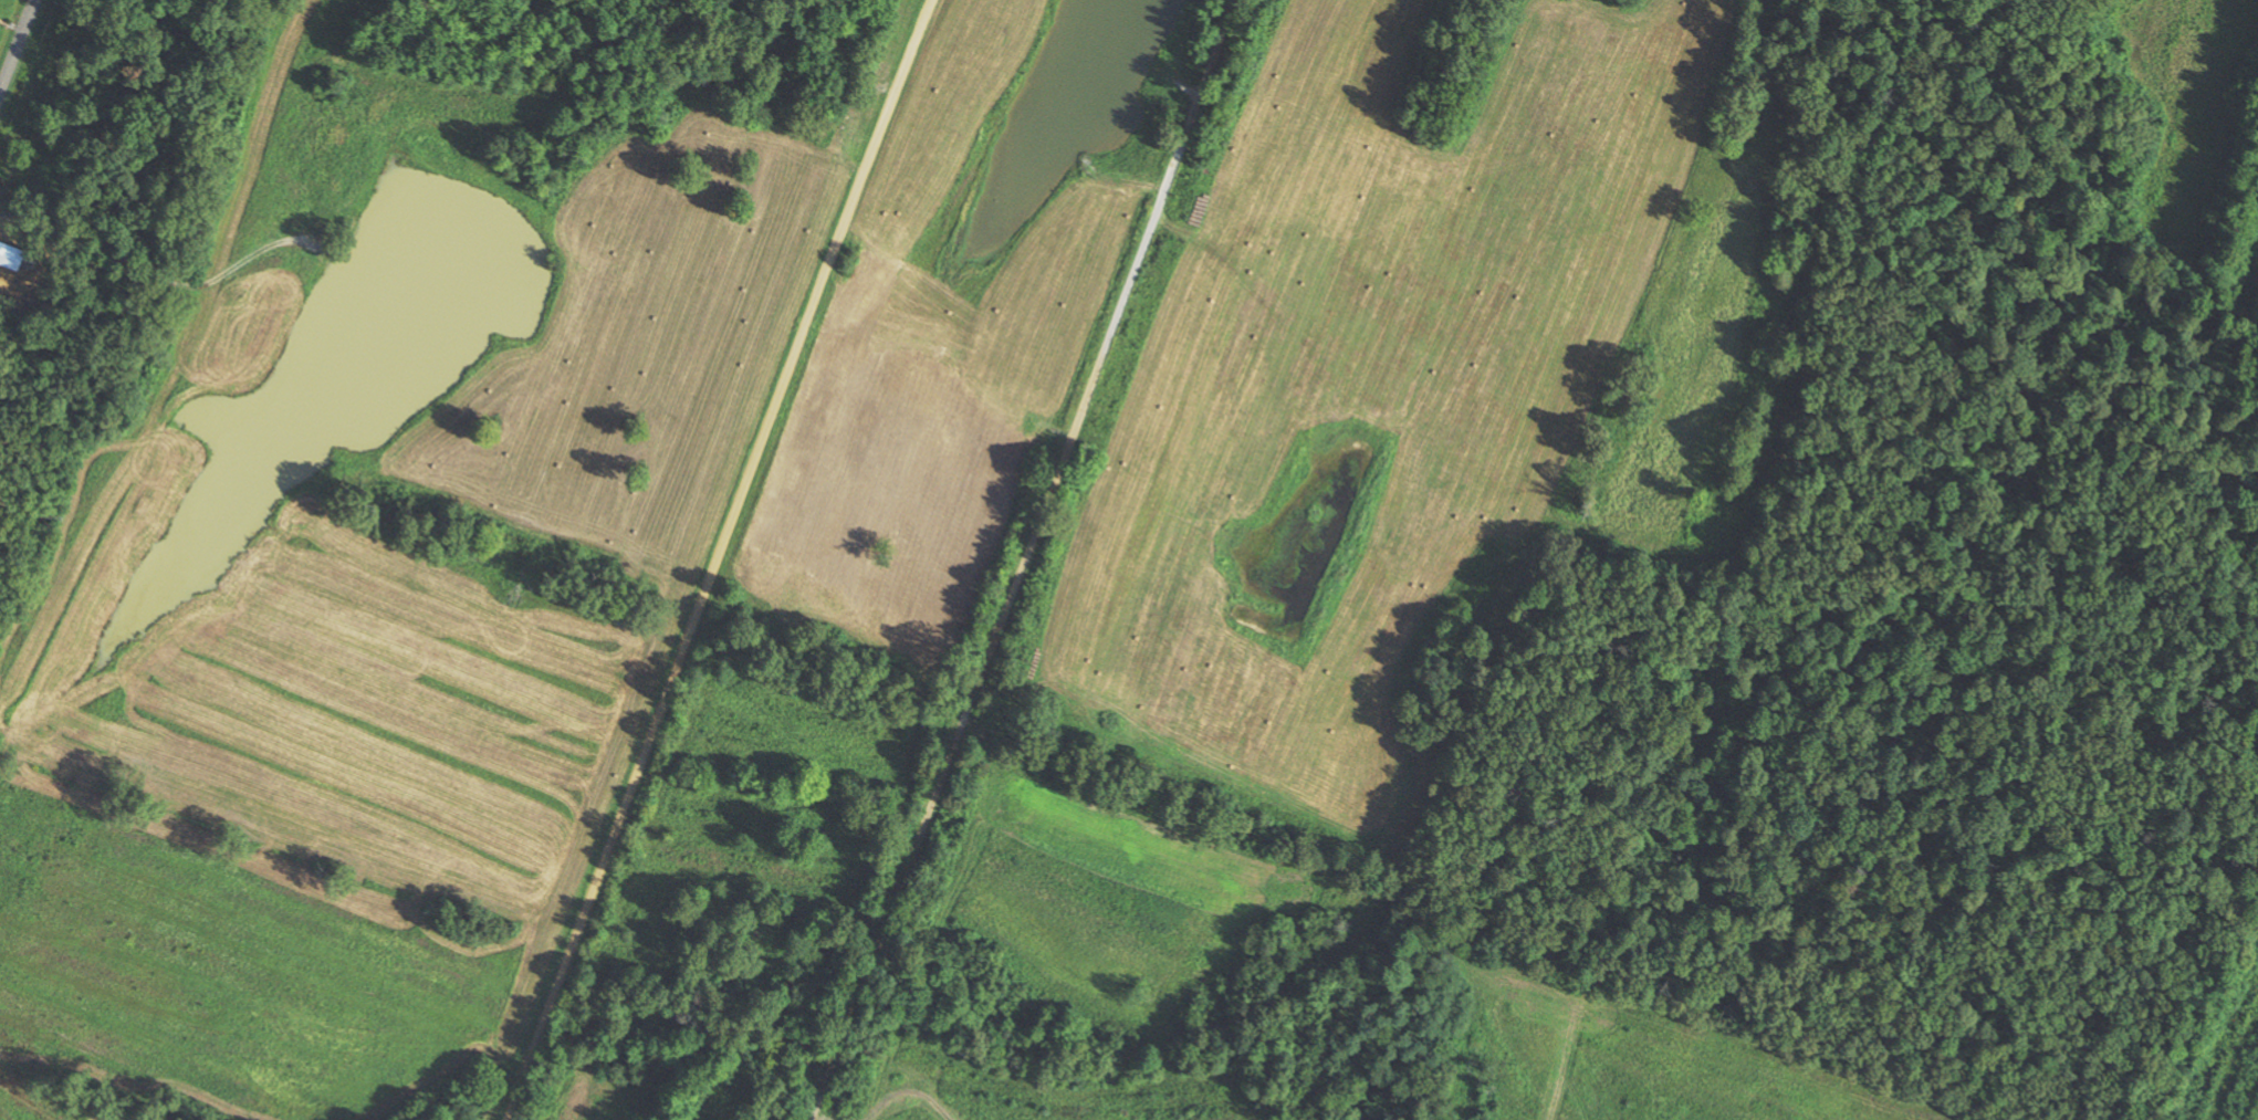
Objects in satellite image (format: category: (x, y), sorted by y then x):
road: (19, 49)
road: (1028, 557)
road: (719, 558)

